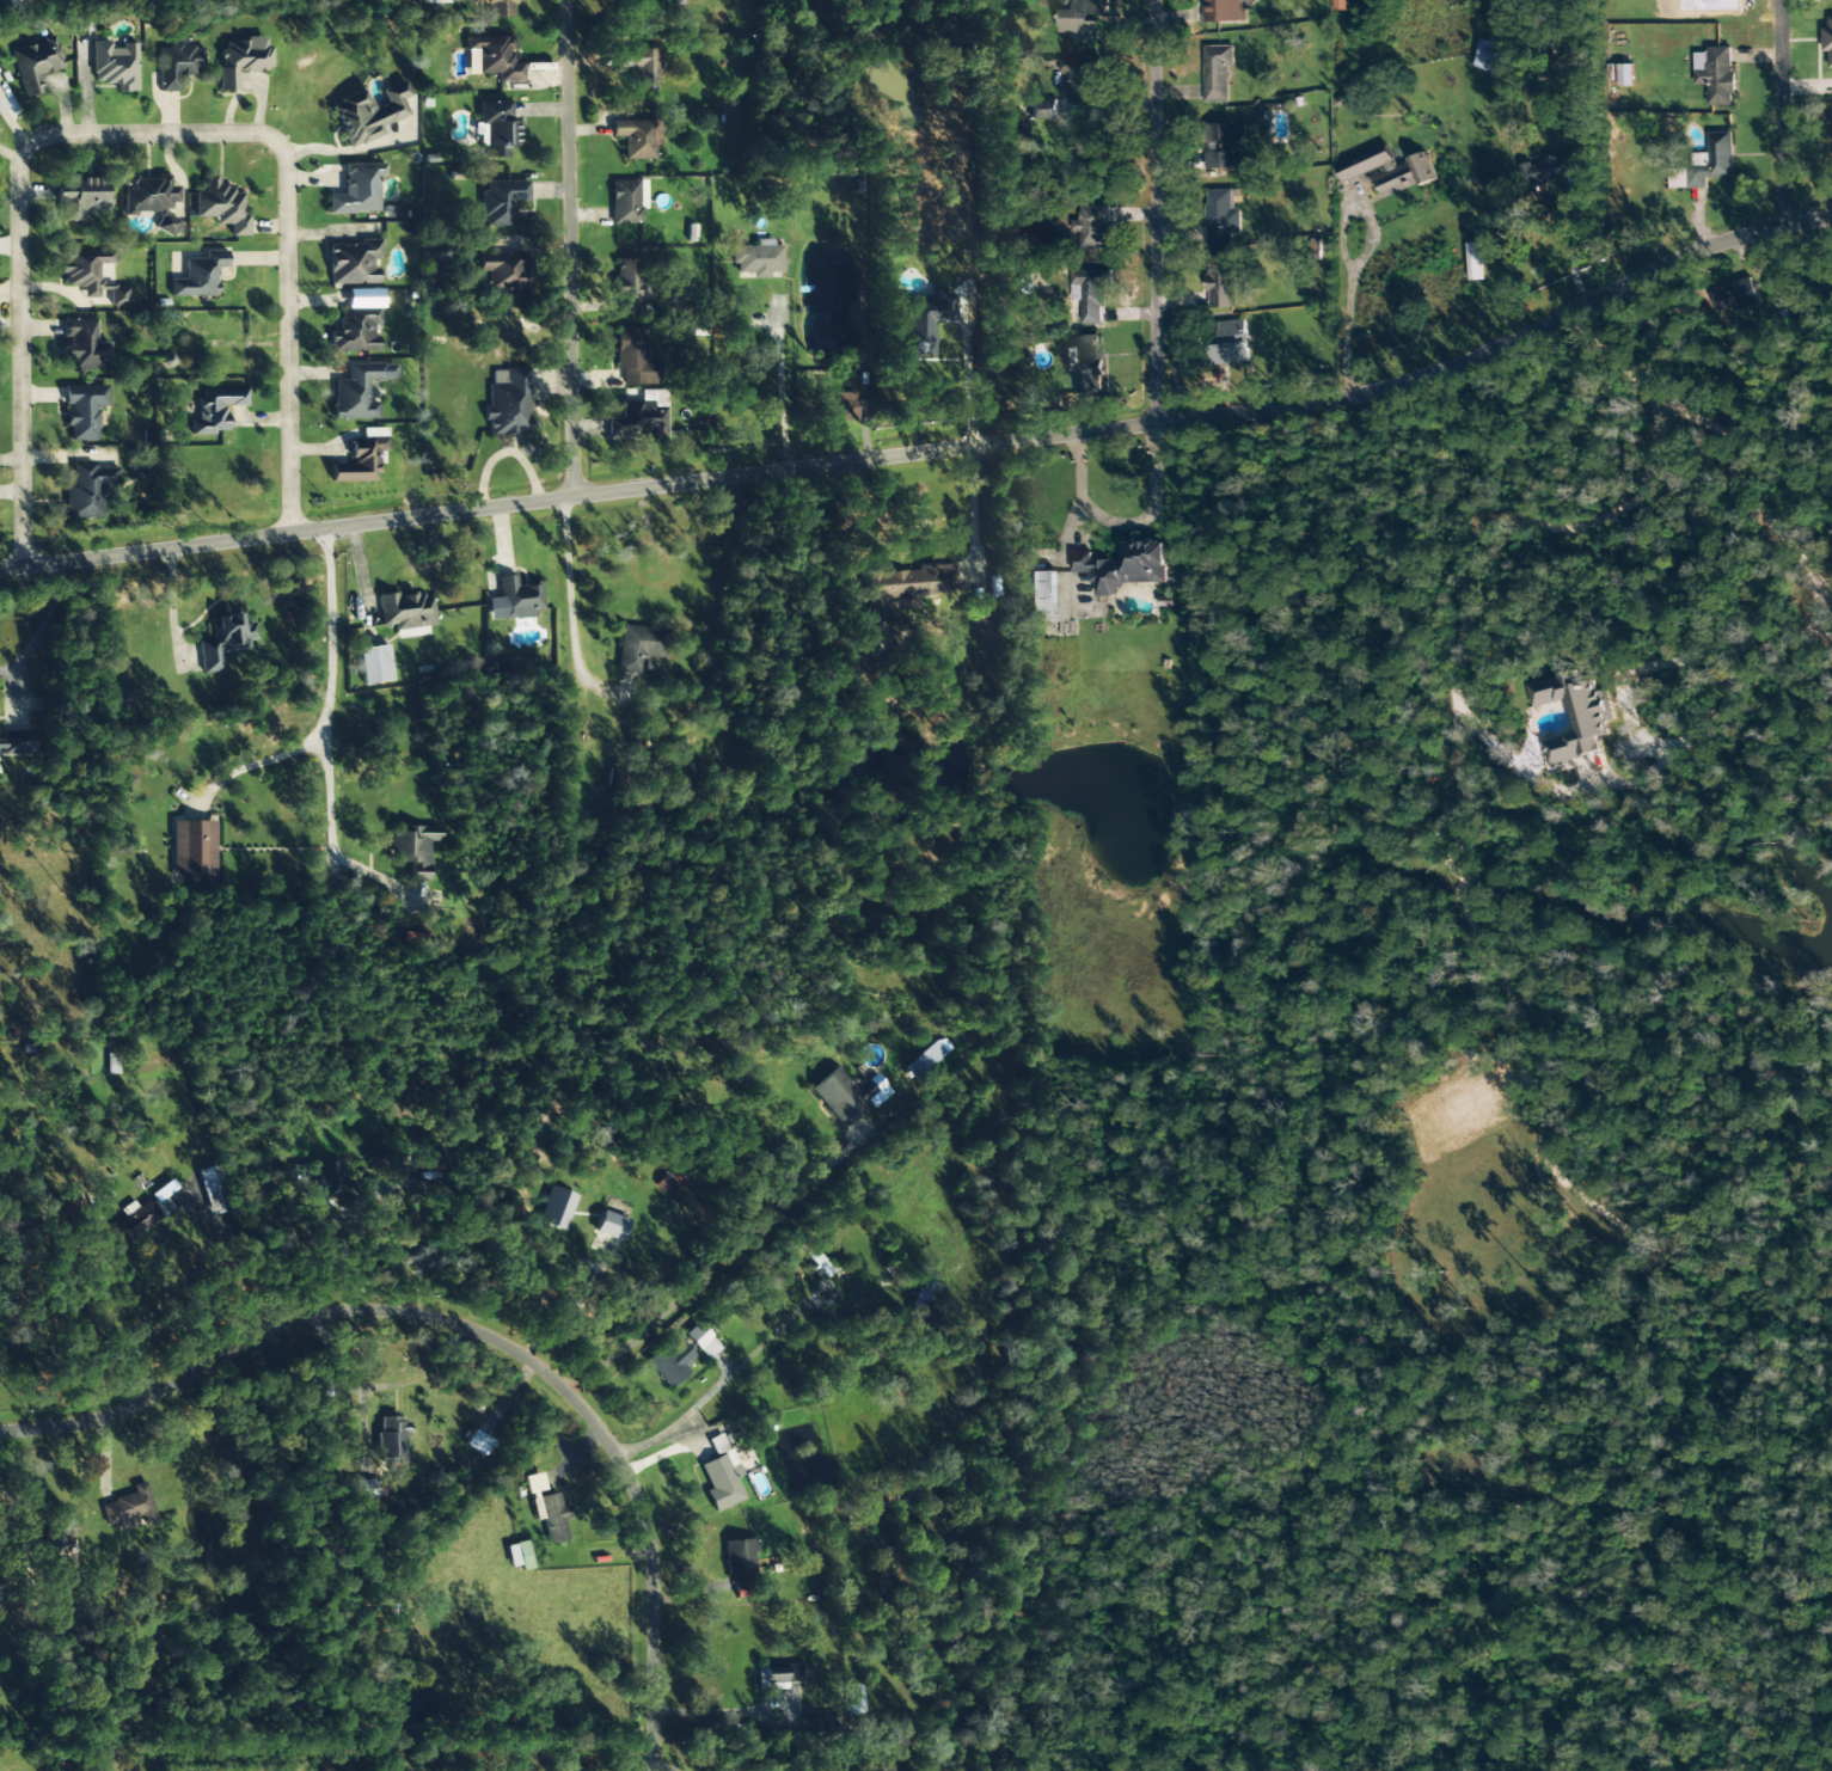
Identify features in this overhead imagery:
building: (14, 4)
building: (630, 5)
building: (498, 8)
building: (1224, 11)
building: (1083, 20)
building: (1827, 41)
building: (495, 57)
building: (1493, 57)
building: (241, 60)
building: (178, 63)
building: (36, 65)
building: (114, 66)
building: (639, 68)
building: (1217, 73)
building: (1625, 75)
building: (1715, 75)
building: (1080, 79)
building: (1043, 110)
road: (1778, 111)
building: (370, 114)
building: (497, 128)
building: (633, 139)
building: (1224, 146)
road: (125, 151)
building: (1711, 160)
building: (1548, 168)
building: (1386, 171)
building: (357, 190)
building: (79, 197)
building: (151, 200)
building: (501, 201)
building: (626, 202)
road: (1141, 204)
building: (221, 207)
building: (1221, 217)
building: (1092, 227)
road: (559, 249)
building: (756, 259)
building: (1475, 262)
building: (353, 263)
building: (503, 274)
building: (91, 276)
building: (200, 276)
building: (1221, 280)
building: (629, 286)
building: (1775, 287)
building: (1090, 293)
building: (1735, 296)
building: (923, 321)
road: (262, 330)
building: (355, 331)
building: (1230, 344)
building: (81, 345)
building: (633, 359)
building: (1087, 364)
road: (777, 390)
building: (359, 391)
building: (508, 402)
building: (835, 406)
building: (84, 410)
building: (215, 410)
building: (638, 421)
road: (931, 449)
building: (362, 458)
building: (88, 490)
road: (973, 507)
road: (433, 533)
building: (1126, 566)
building: (908, 582)
building: (1041, 596)
building: (514, 600)
road: (570, 608)
building: (406, 611)
building: (223, 641)
building: (638, 648)
building: (374, 664)
building: (1574, 716)
building: (17, 742)
building: (413, 848)
building: (192, 850)
building: (926, 1058)
building: (847, 1096)
building: (430, 1157)
building: (317, 1178)
building: (664, 1185)
building: (213, 1190)
building: (556, 1208)
building: (141, 1217)
building: (609, 1226)
building: (817, 1263)
building: (710, 1323)
road: (466, 1326)
building: (701, 1341)
building: (669, 1361)
building: (391, 1440)
building: (477, 1442)
building: (721, 1476)
building: (357, 1489)
building: (129, 1509)
building: (546, 1509)
building: (60, 1548)
building: (517, 1556)
building: (739, 1563)
building: (392, 1610)
building: (780, 1674)
building: (853, 1699)

